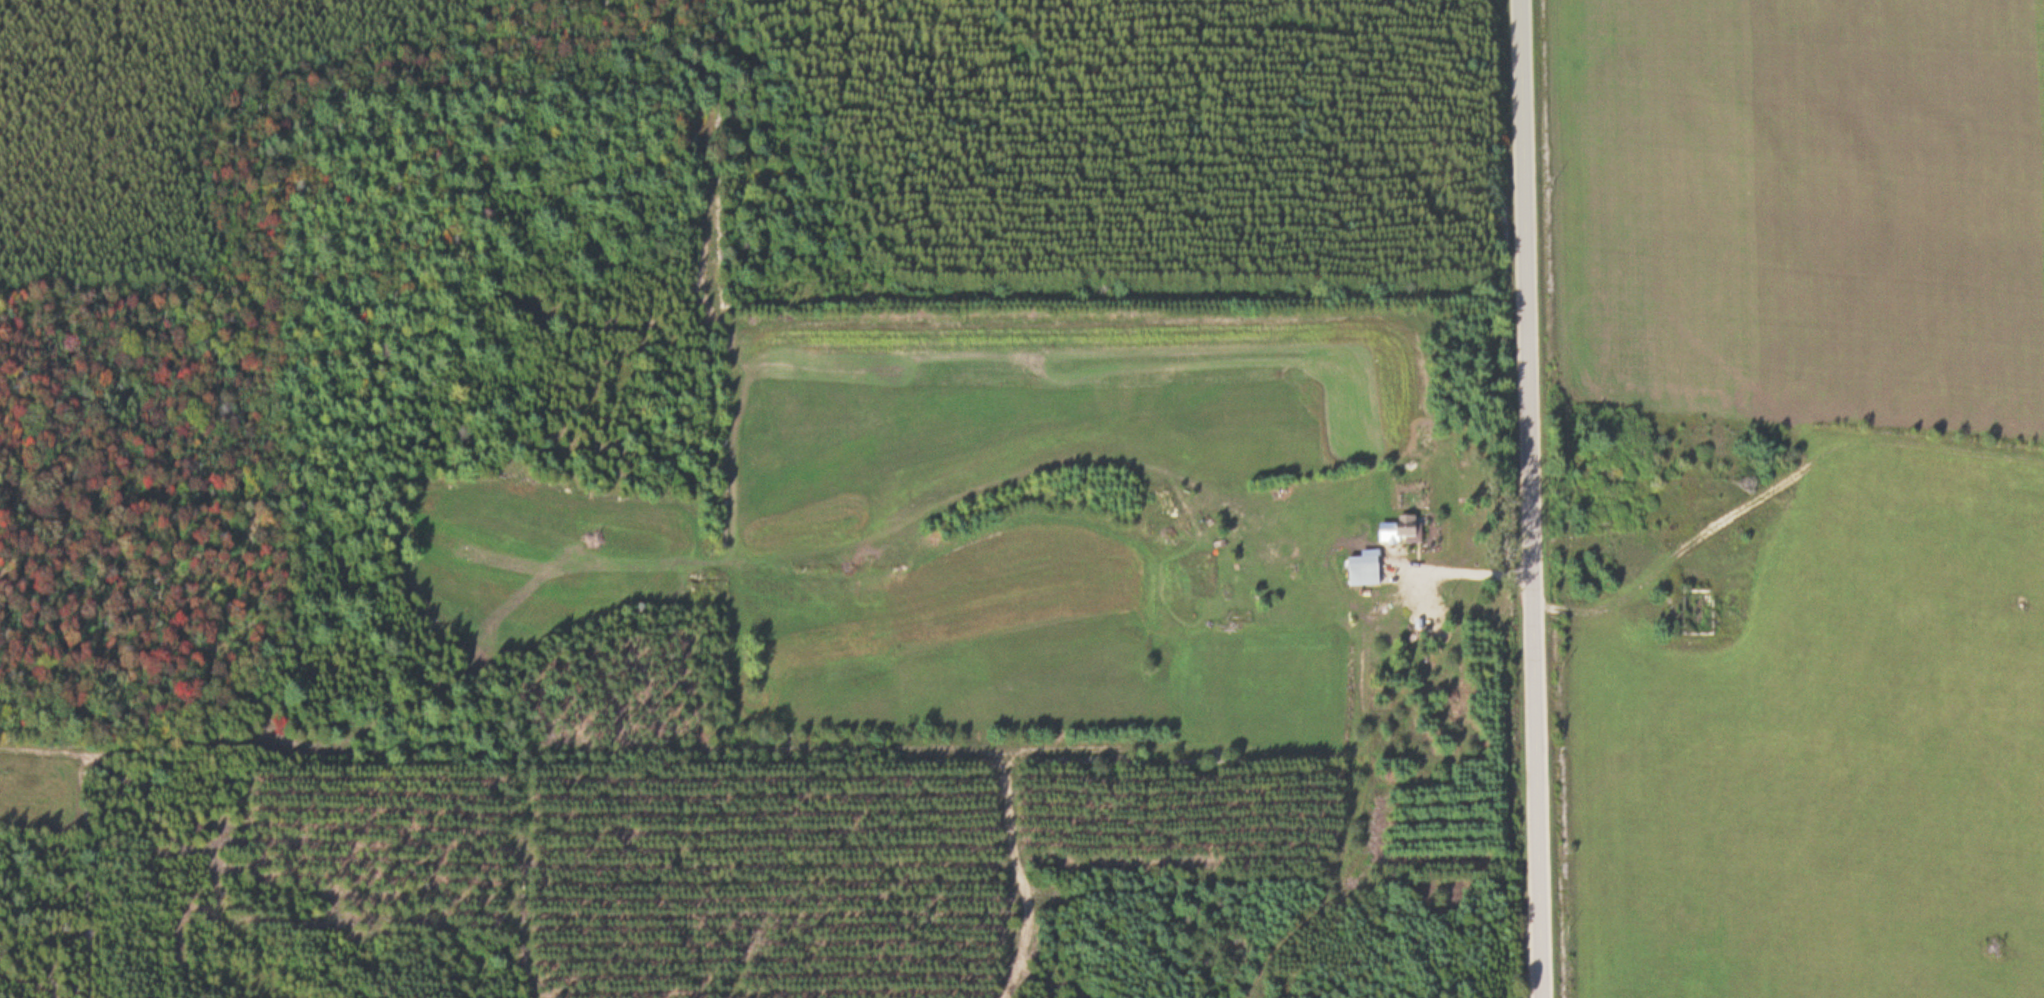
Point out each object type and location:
road: (1533, 499)
building: (1403, 531)
building: (1358, 572)

